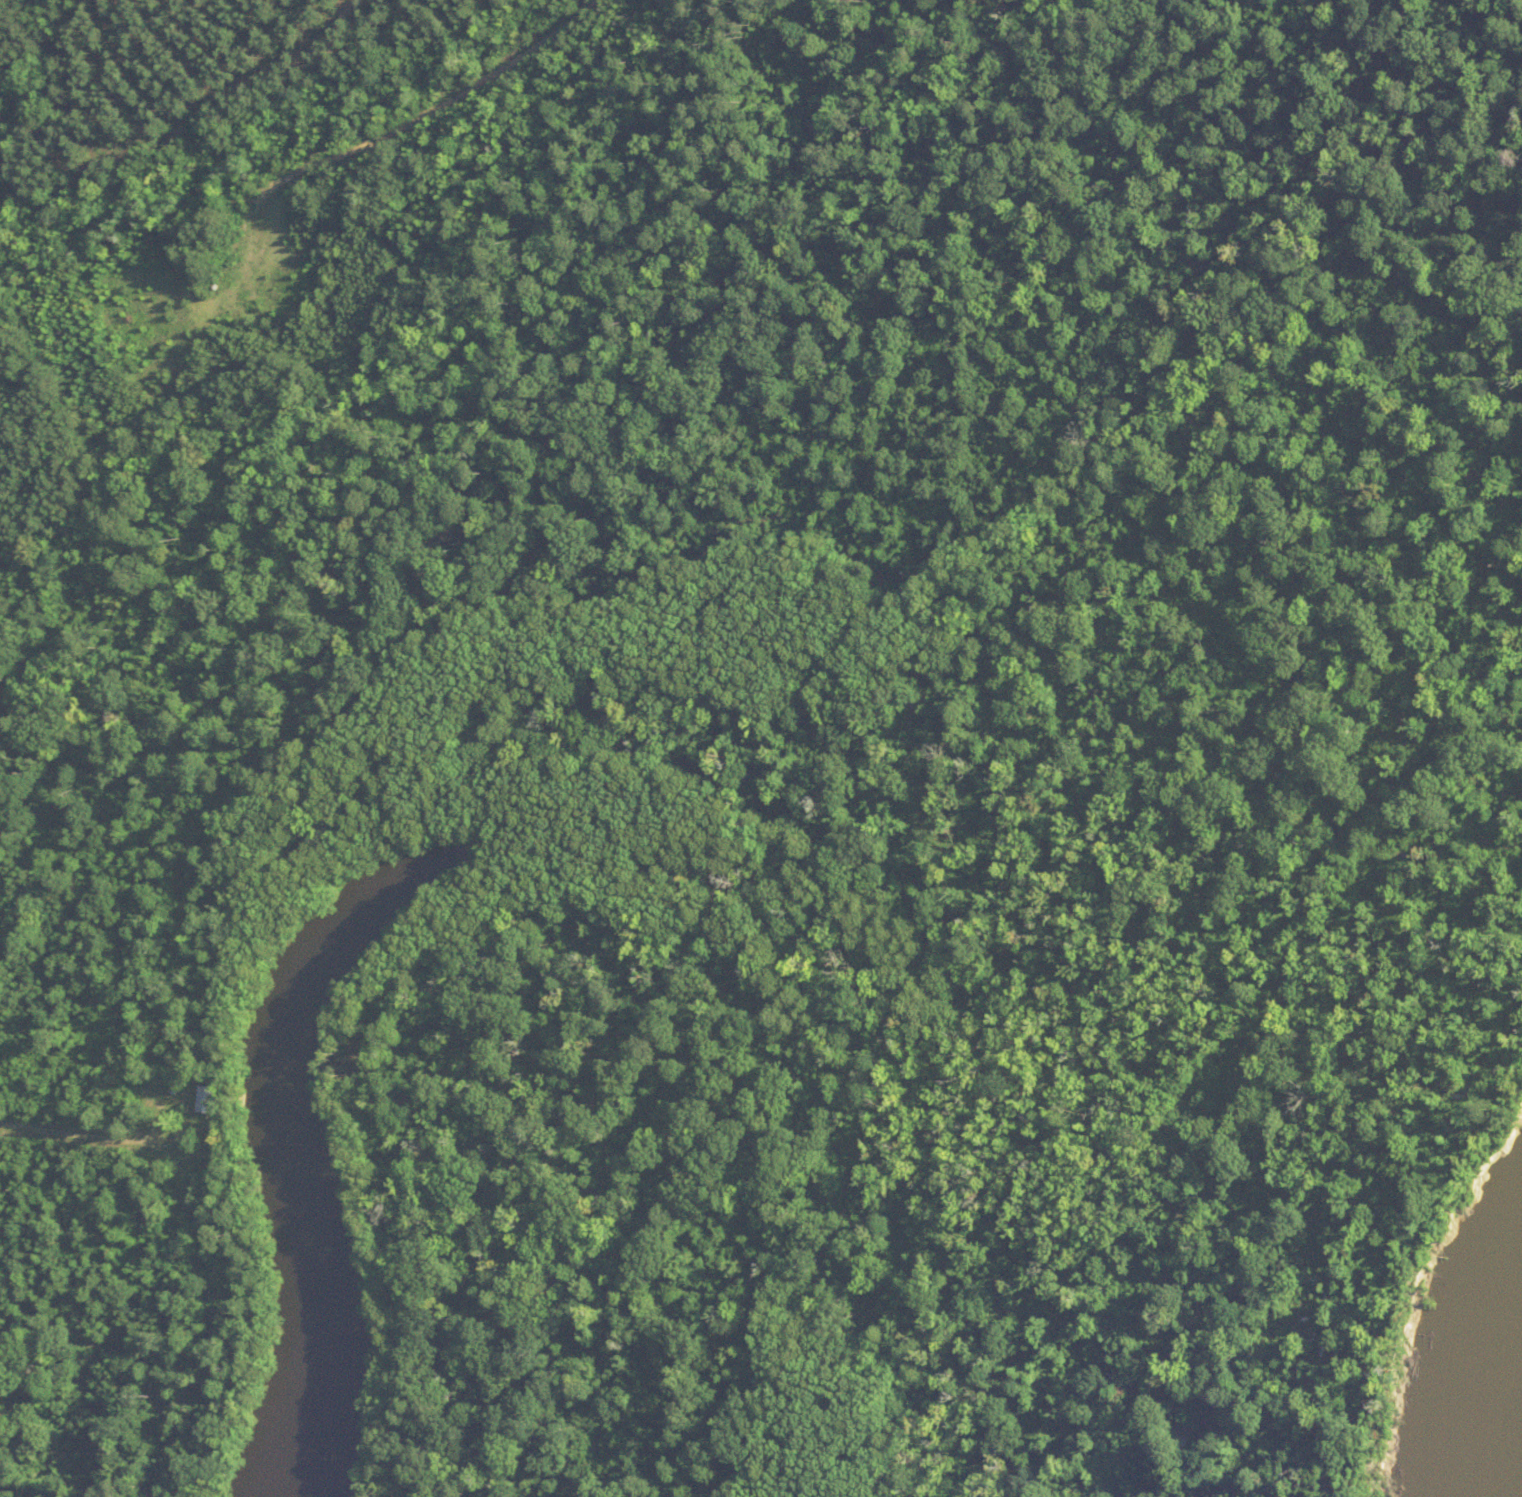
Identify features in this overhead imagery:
river: (1483, 1396)

